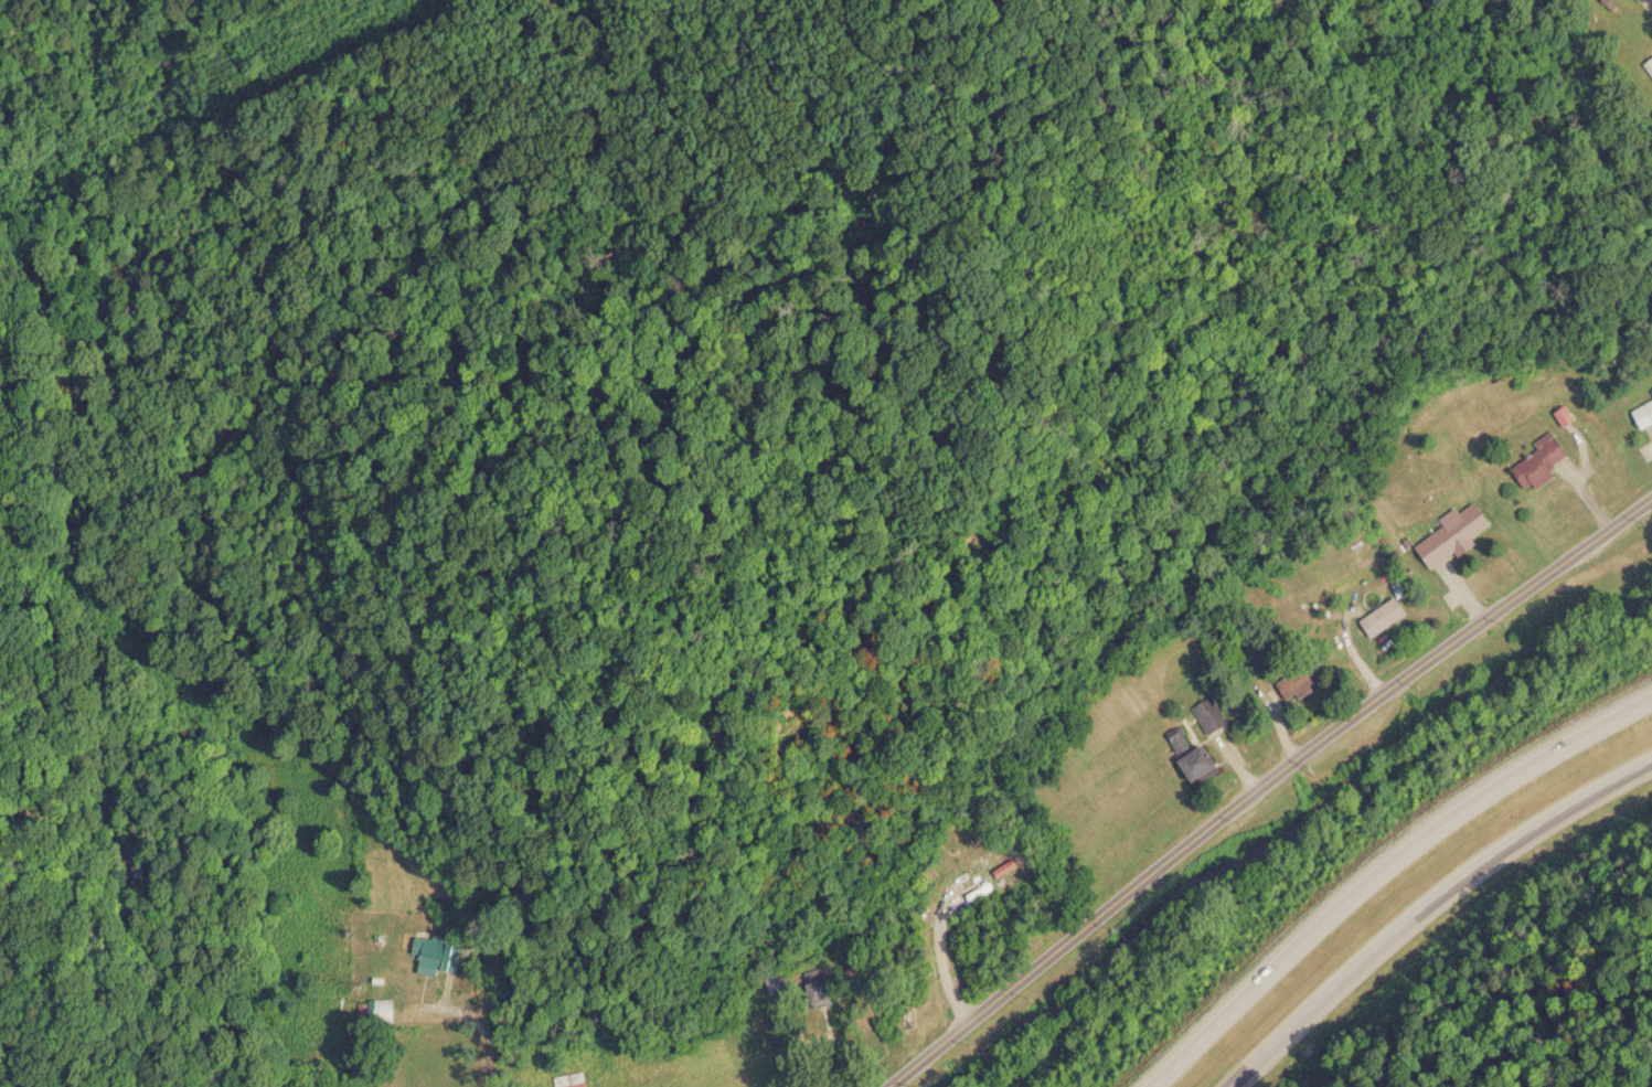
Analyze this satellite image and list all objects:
road: (1650, 1)
building: (1648, 65)
building: (1641, 413)
building: (1534, 461)
building: (1447, 533)
building: (1376, 616)
building: (1290, 683)
building: (1205, 713)
building: (1184, 756)
road: (1262, 784)
road: (1379, 866)
road: (450, 872)
road: (1424, 904)
building: (427, 950)
building: (774, 981)
building: (813, 991)
building: (384, 1008)
building: (526, 1072)
building: (571, 1084)

